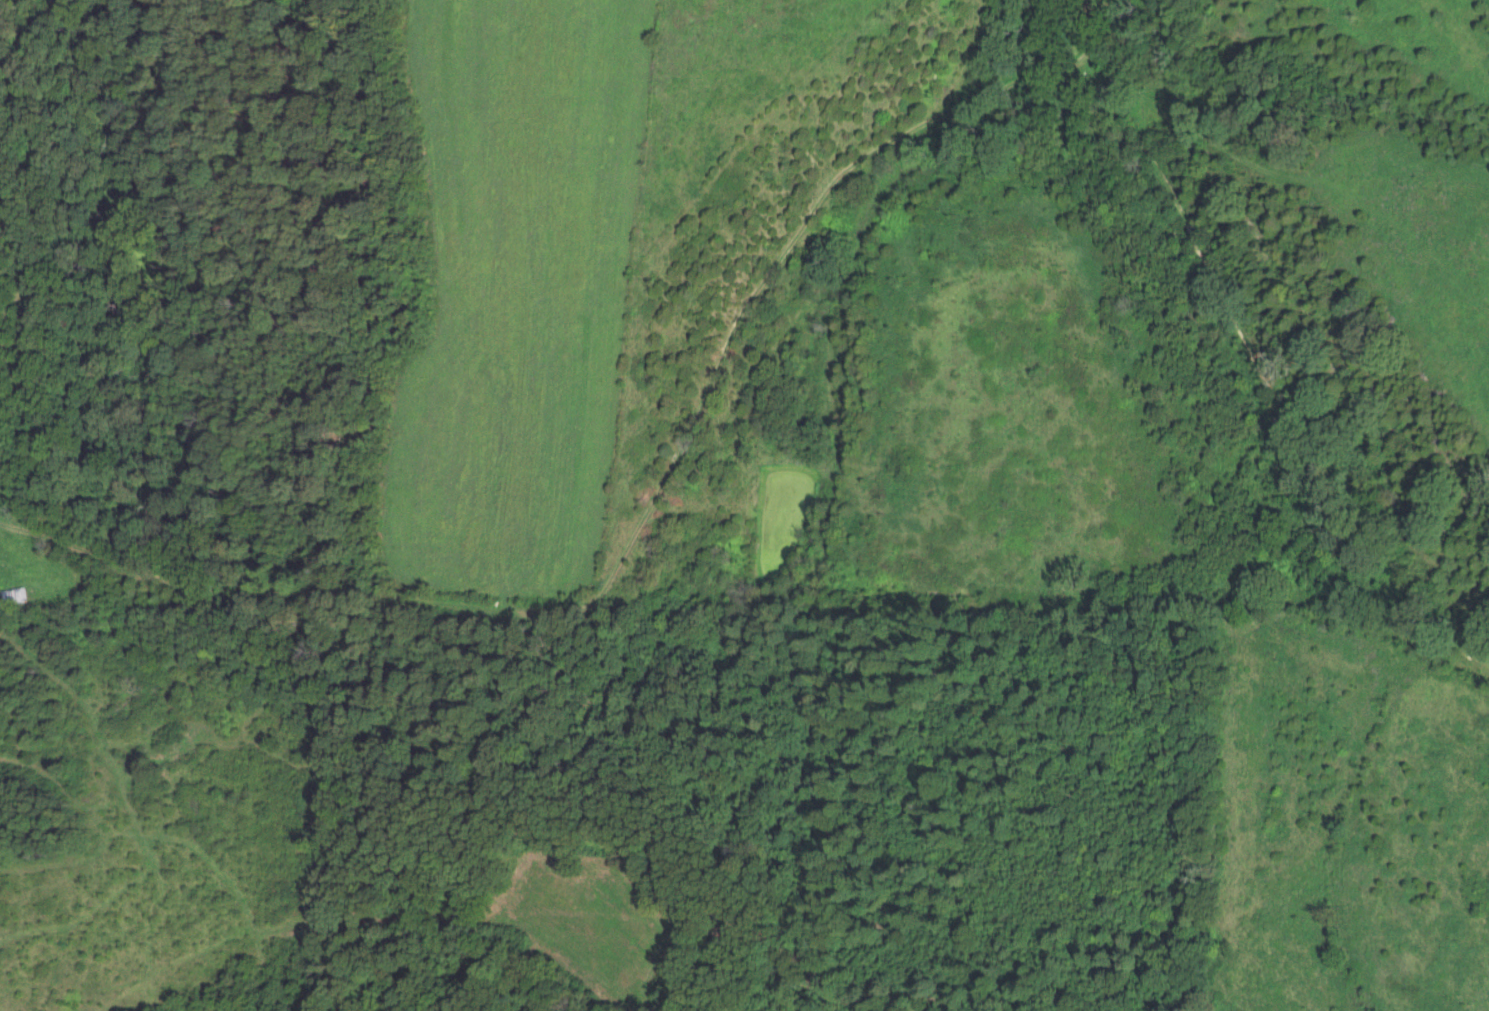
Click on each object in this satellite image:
road: (1241, 315)

